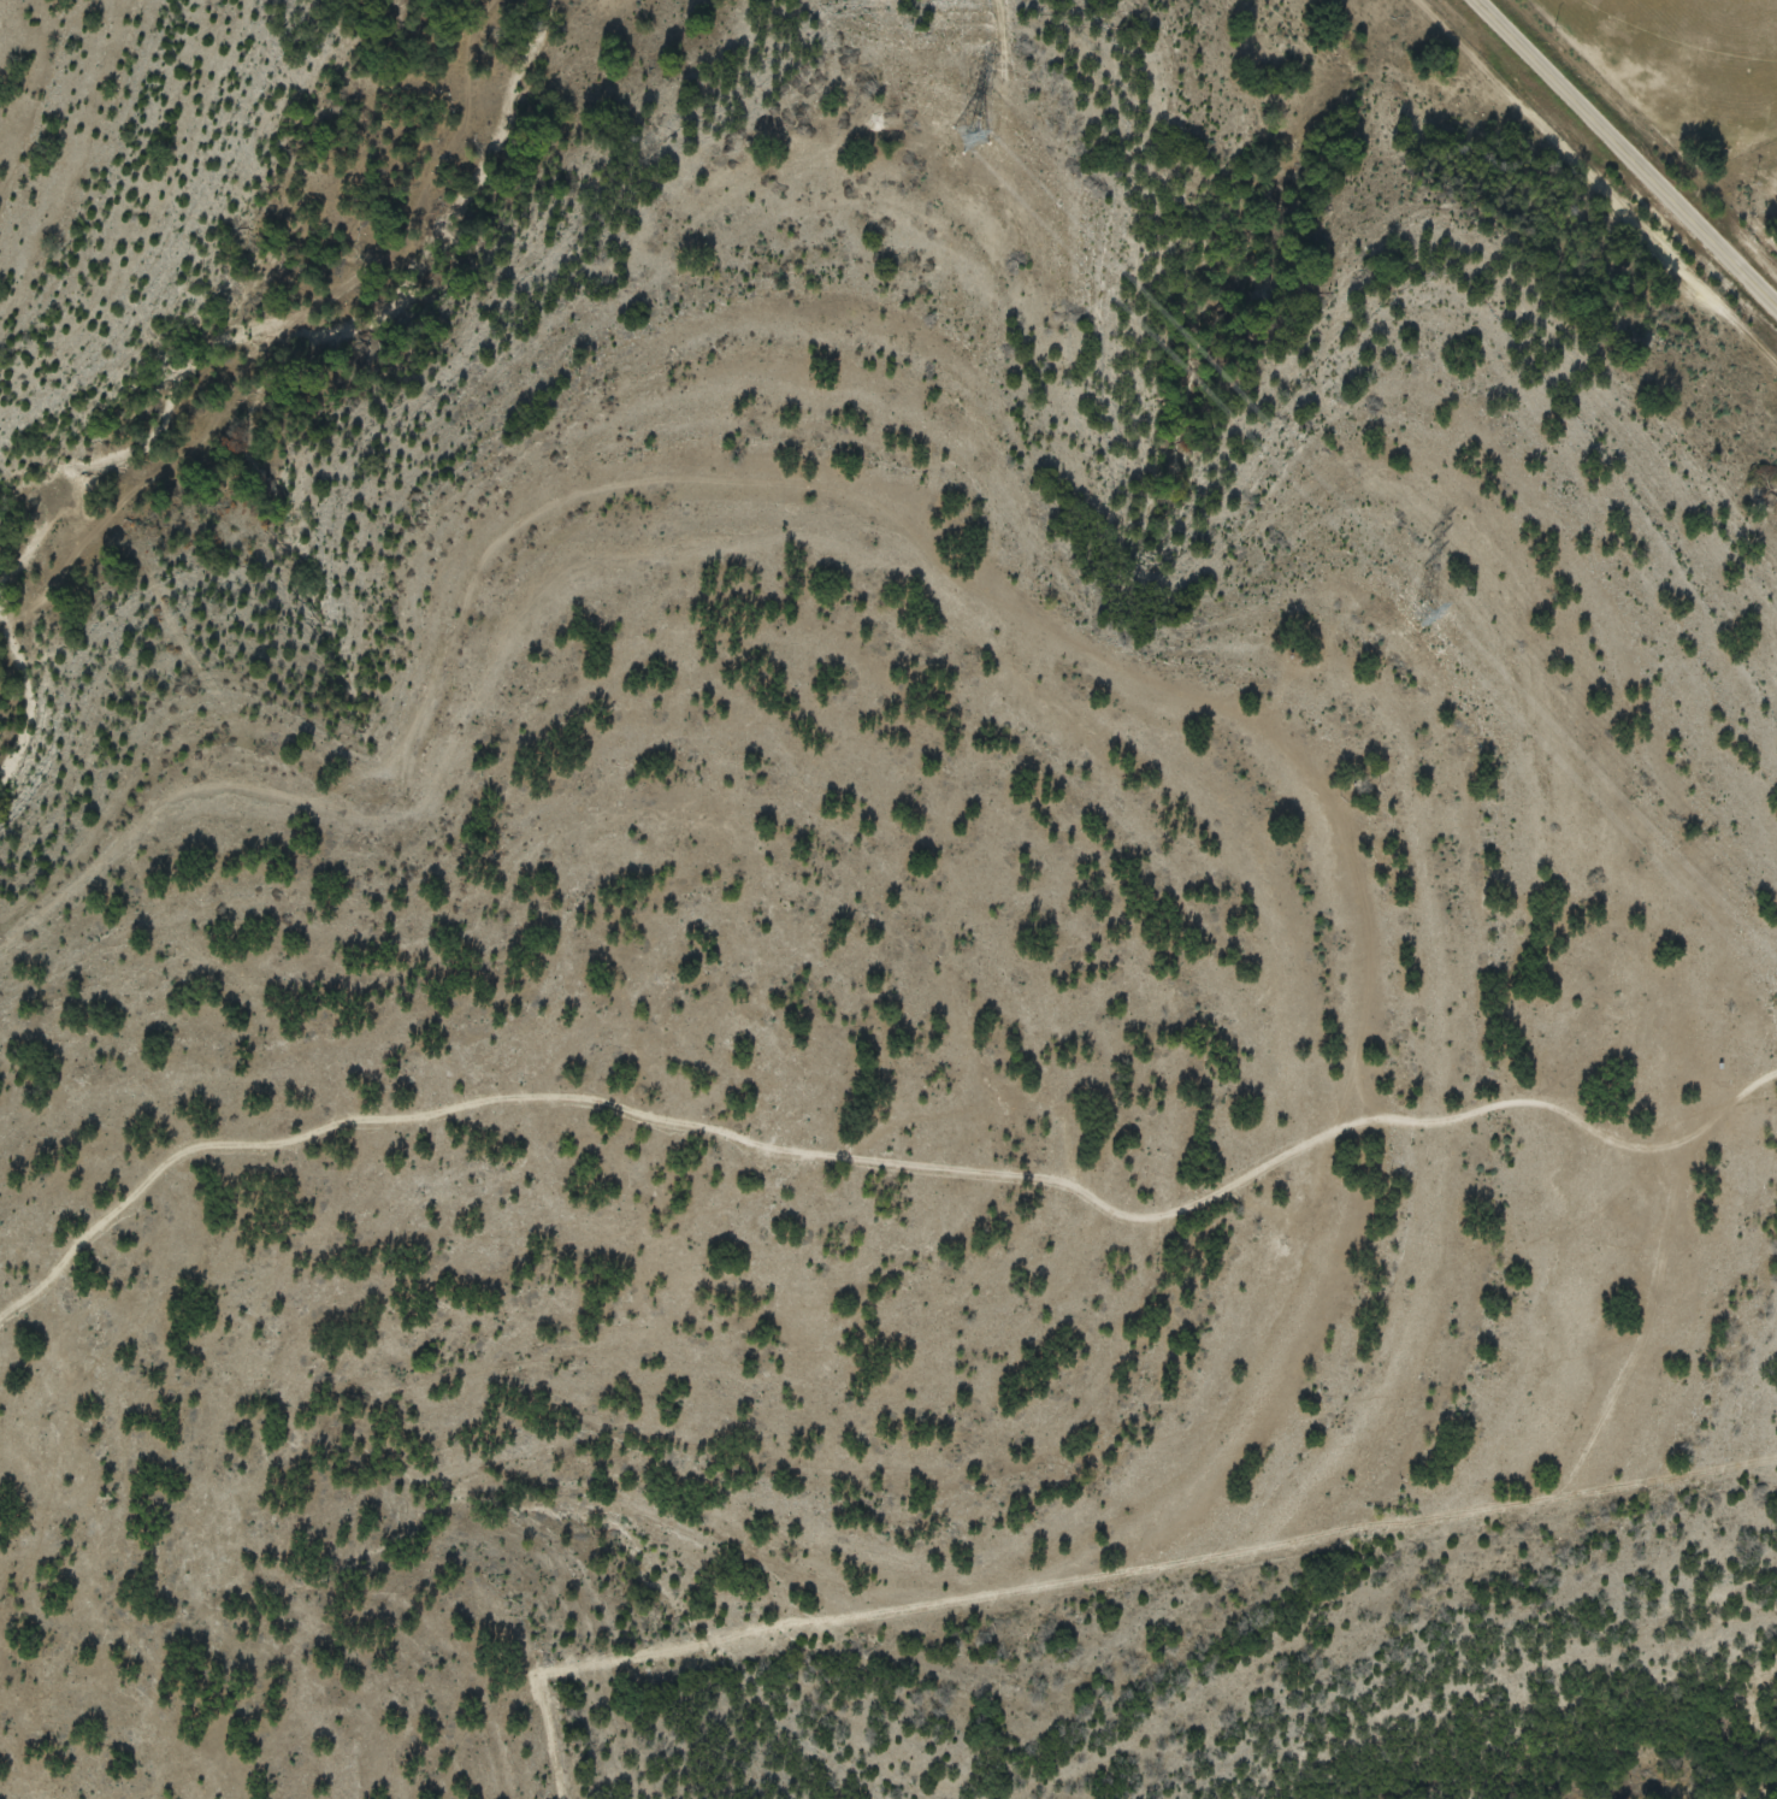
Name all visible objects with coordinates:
power tower: (975, 123)
road: (1629, 149)
power tower: (1413, 607)

